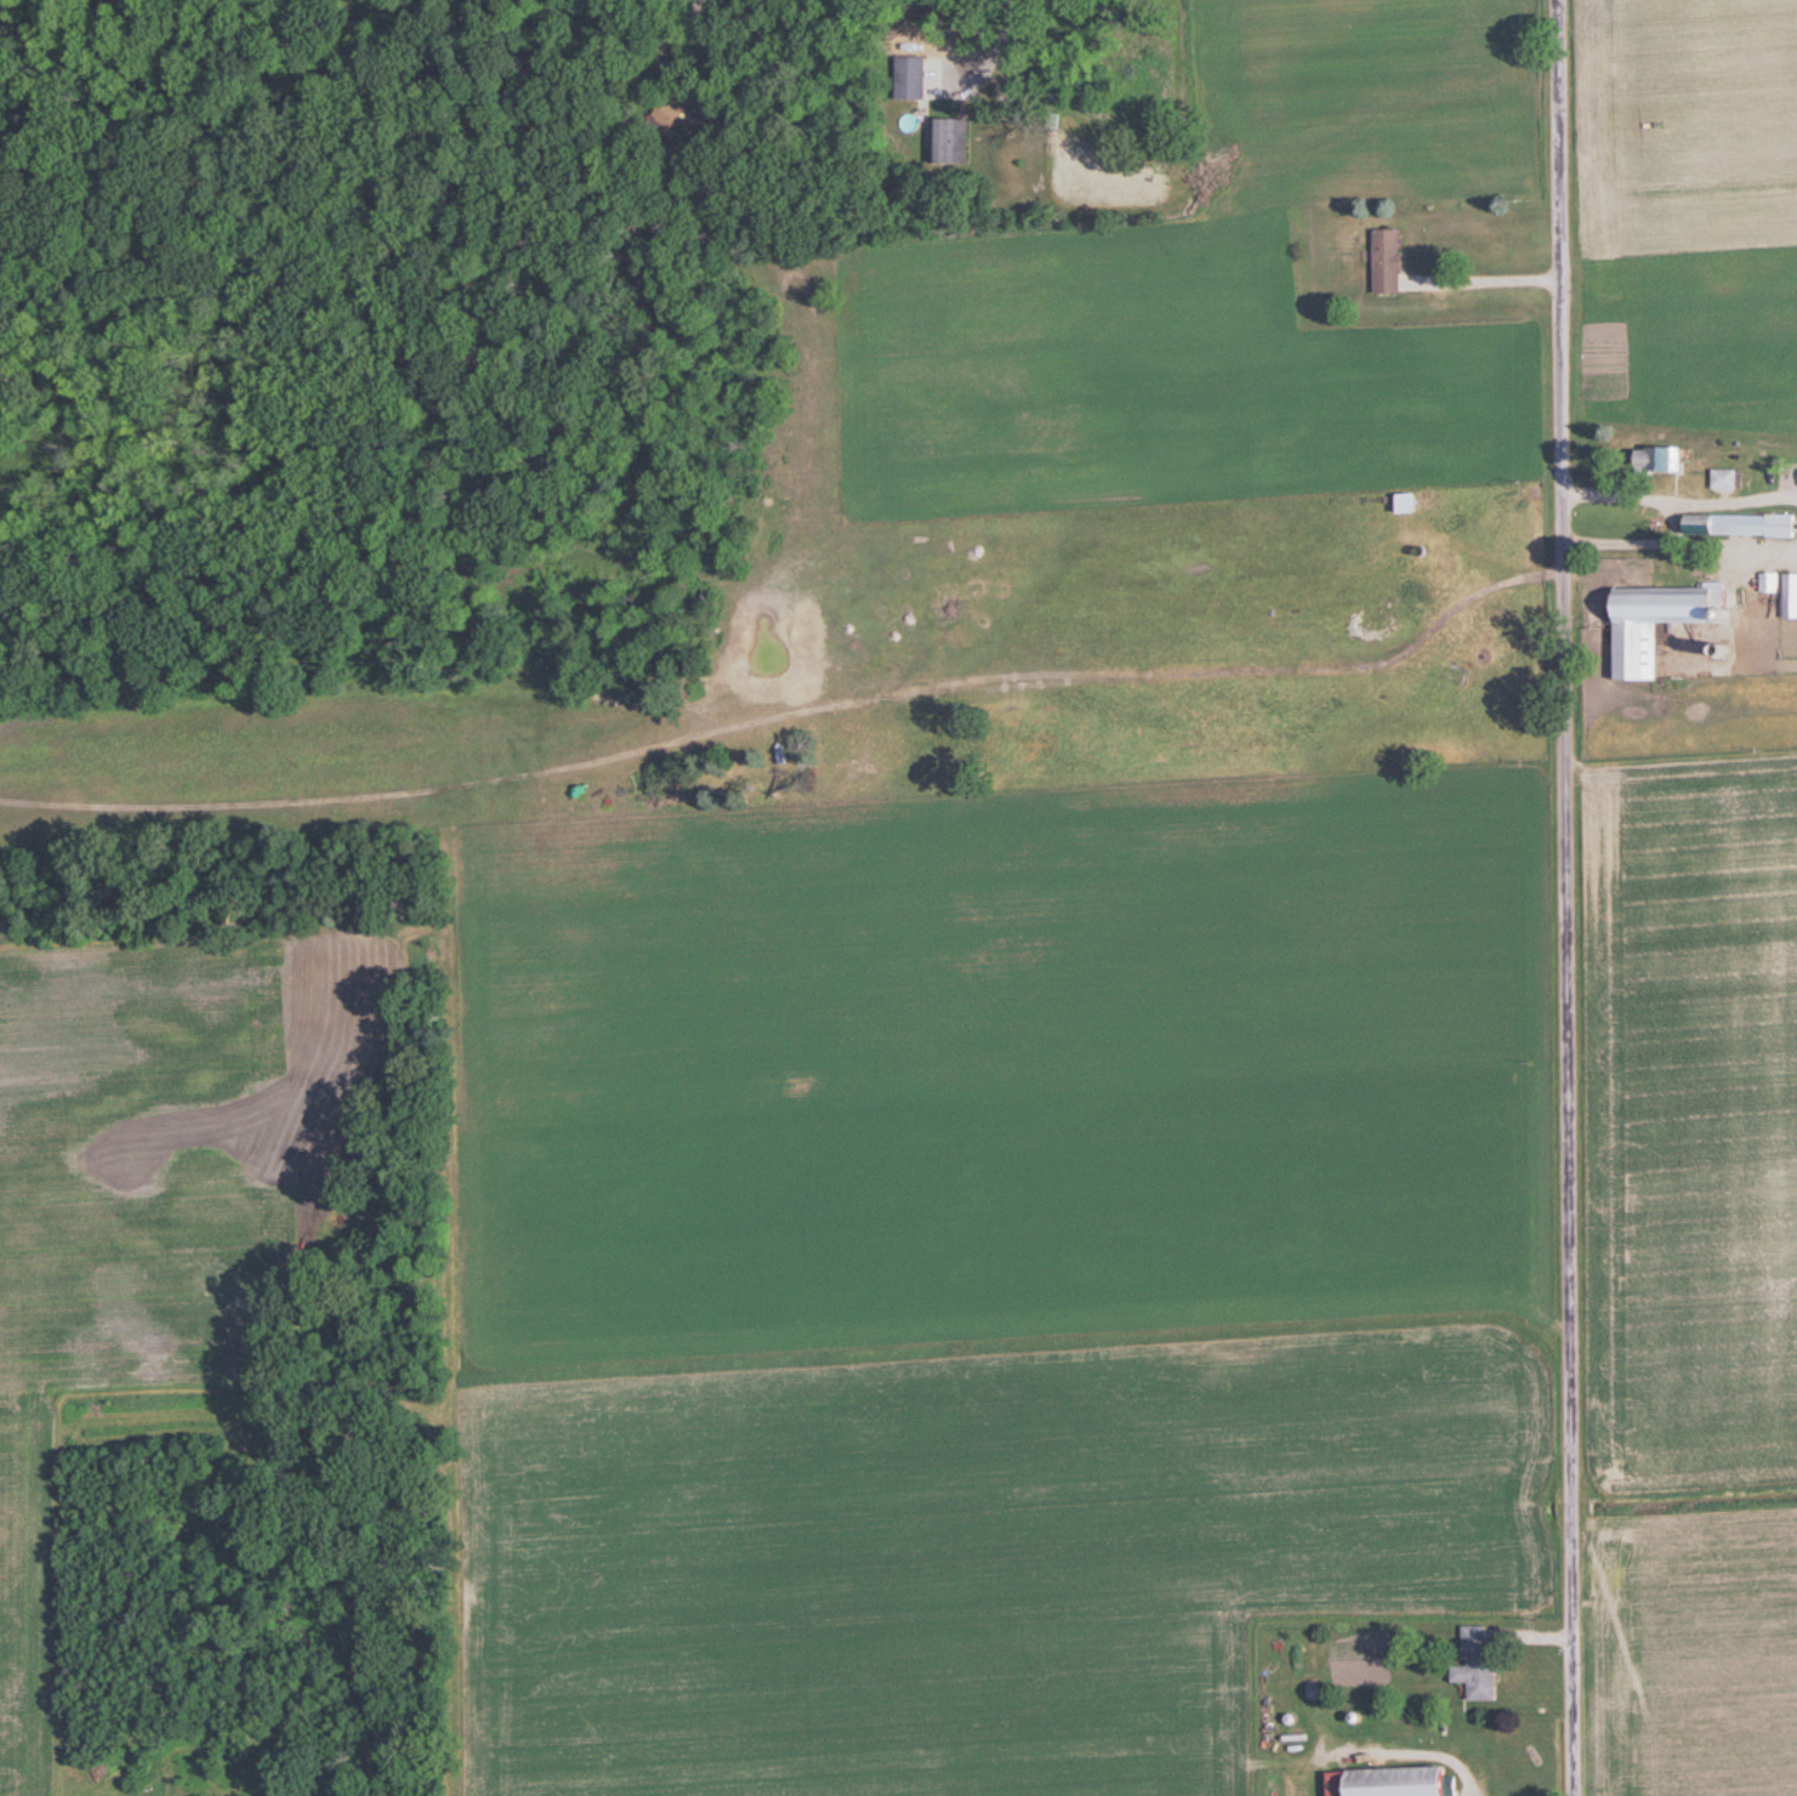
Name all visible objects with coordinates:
road: (1003, 30)
road: (948, 70)
building: (914, 76)
road: (681, 83)
building: (956, 142)
building: (1392, 261)
building: (1681, 456)
building: (1790, 473)
building: (1728, 477)
building: (1412, 501)
building: (1744, 523)
building: (1784, 590)
building: (1662, 620)
road: (1565, 897)
building: (1480, 1665)
road: (1434, 1754)
building: (1397, 1781)

